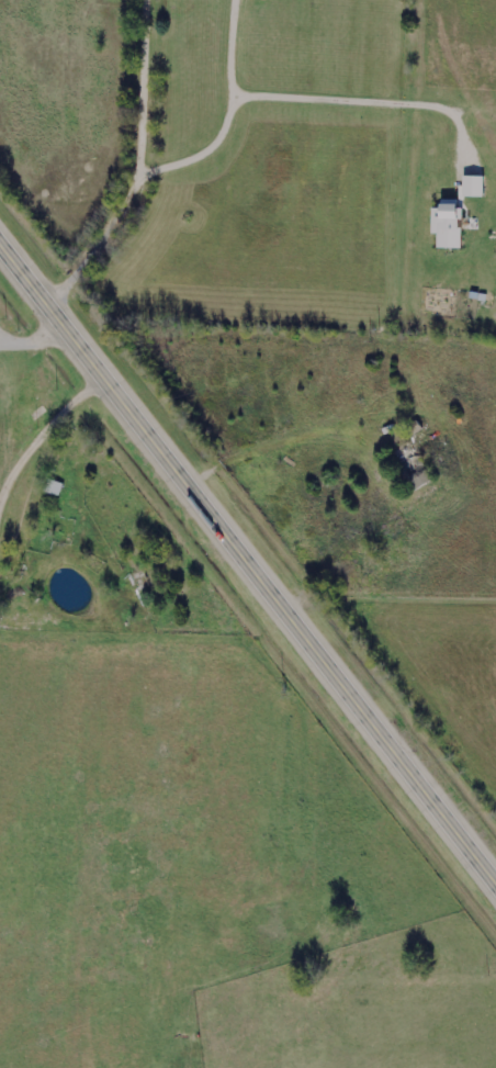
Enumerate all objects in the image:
road: (133, 164)
building: (444, 225)
road: (279, 440)
building: (415, 474)
building: (53, 493)
railway: (248, 527)
road: (248, 561)

